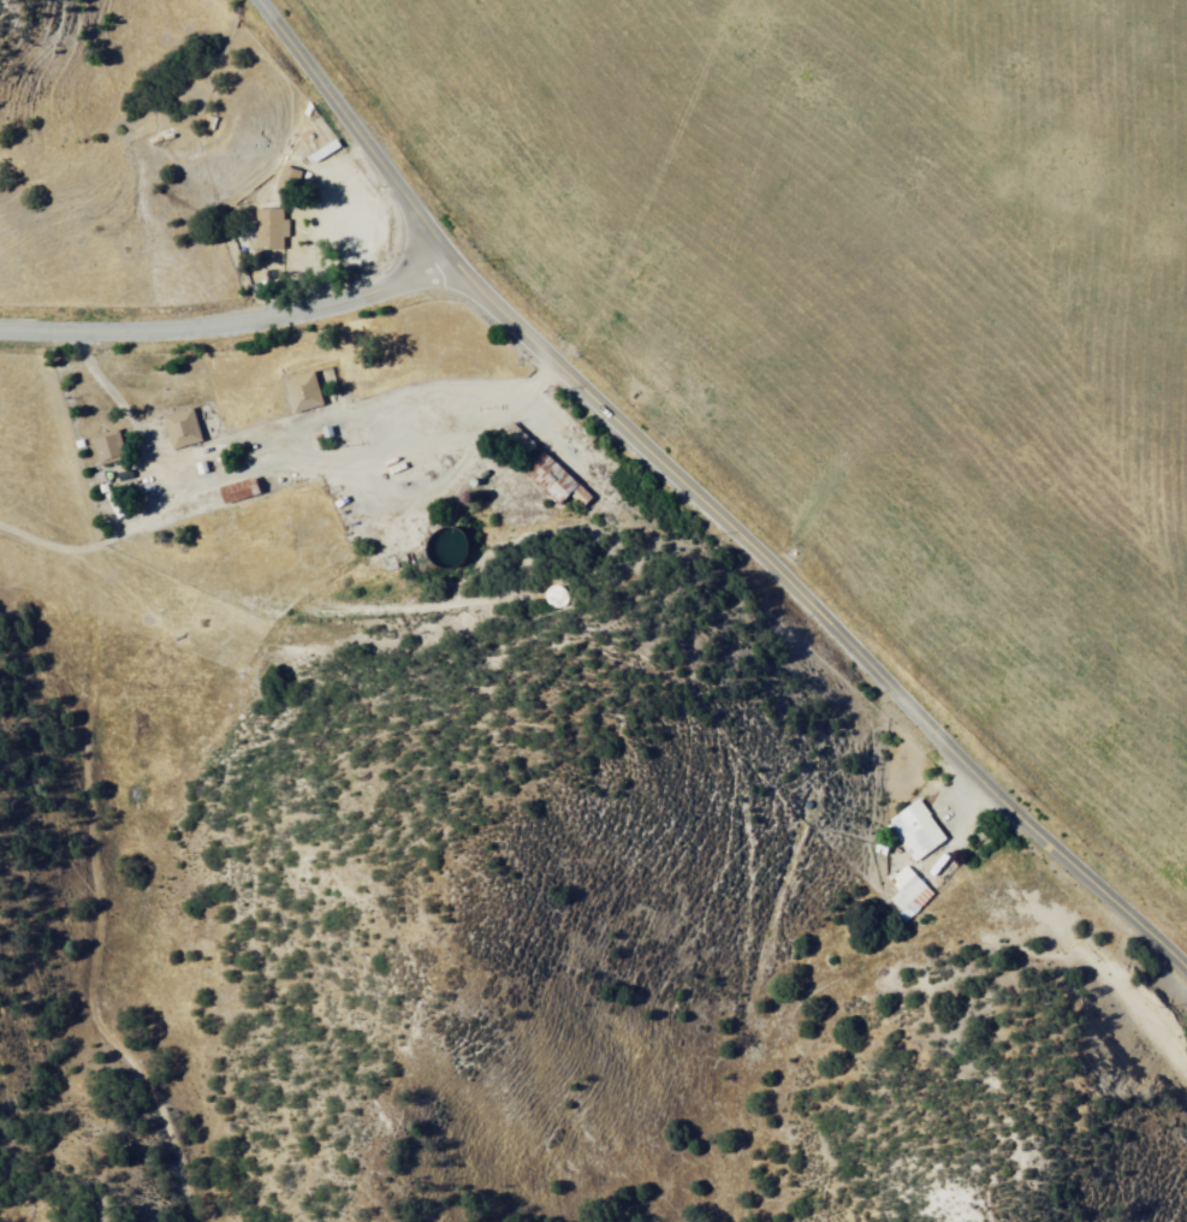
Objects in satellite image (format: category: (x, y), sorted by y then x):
road: (360, 142)
building: (285, 179)
building: (269, 226)
crop: (879, 321)
road: (236, 330)
building: (289, 388)
building: (303, 393)
road: (367, 410)
road: (127, 415)
building: (185, 423)
building: (167, 425)
building: (103, 447)
building: (545, 477)
building: (247, 504)
road: (100, 544)
road: (829, 629)
building: (903, 826)
building: (928, 835)
building: (895, 889)
road: (97, 898)

